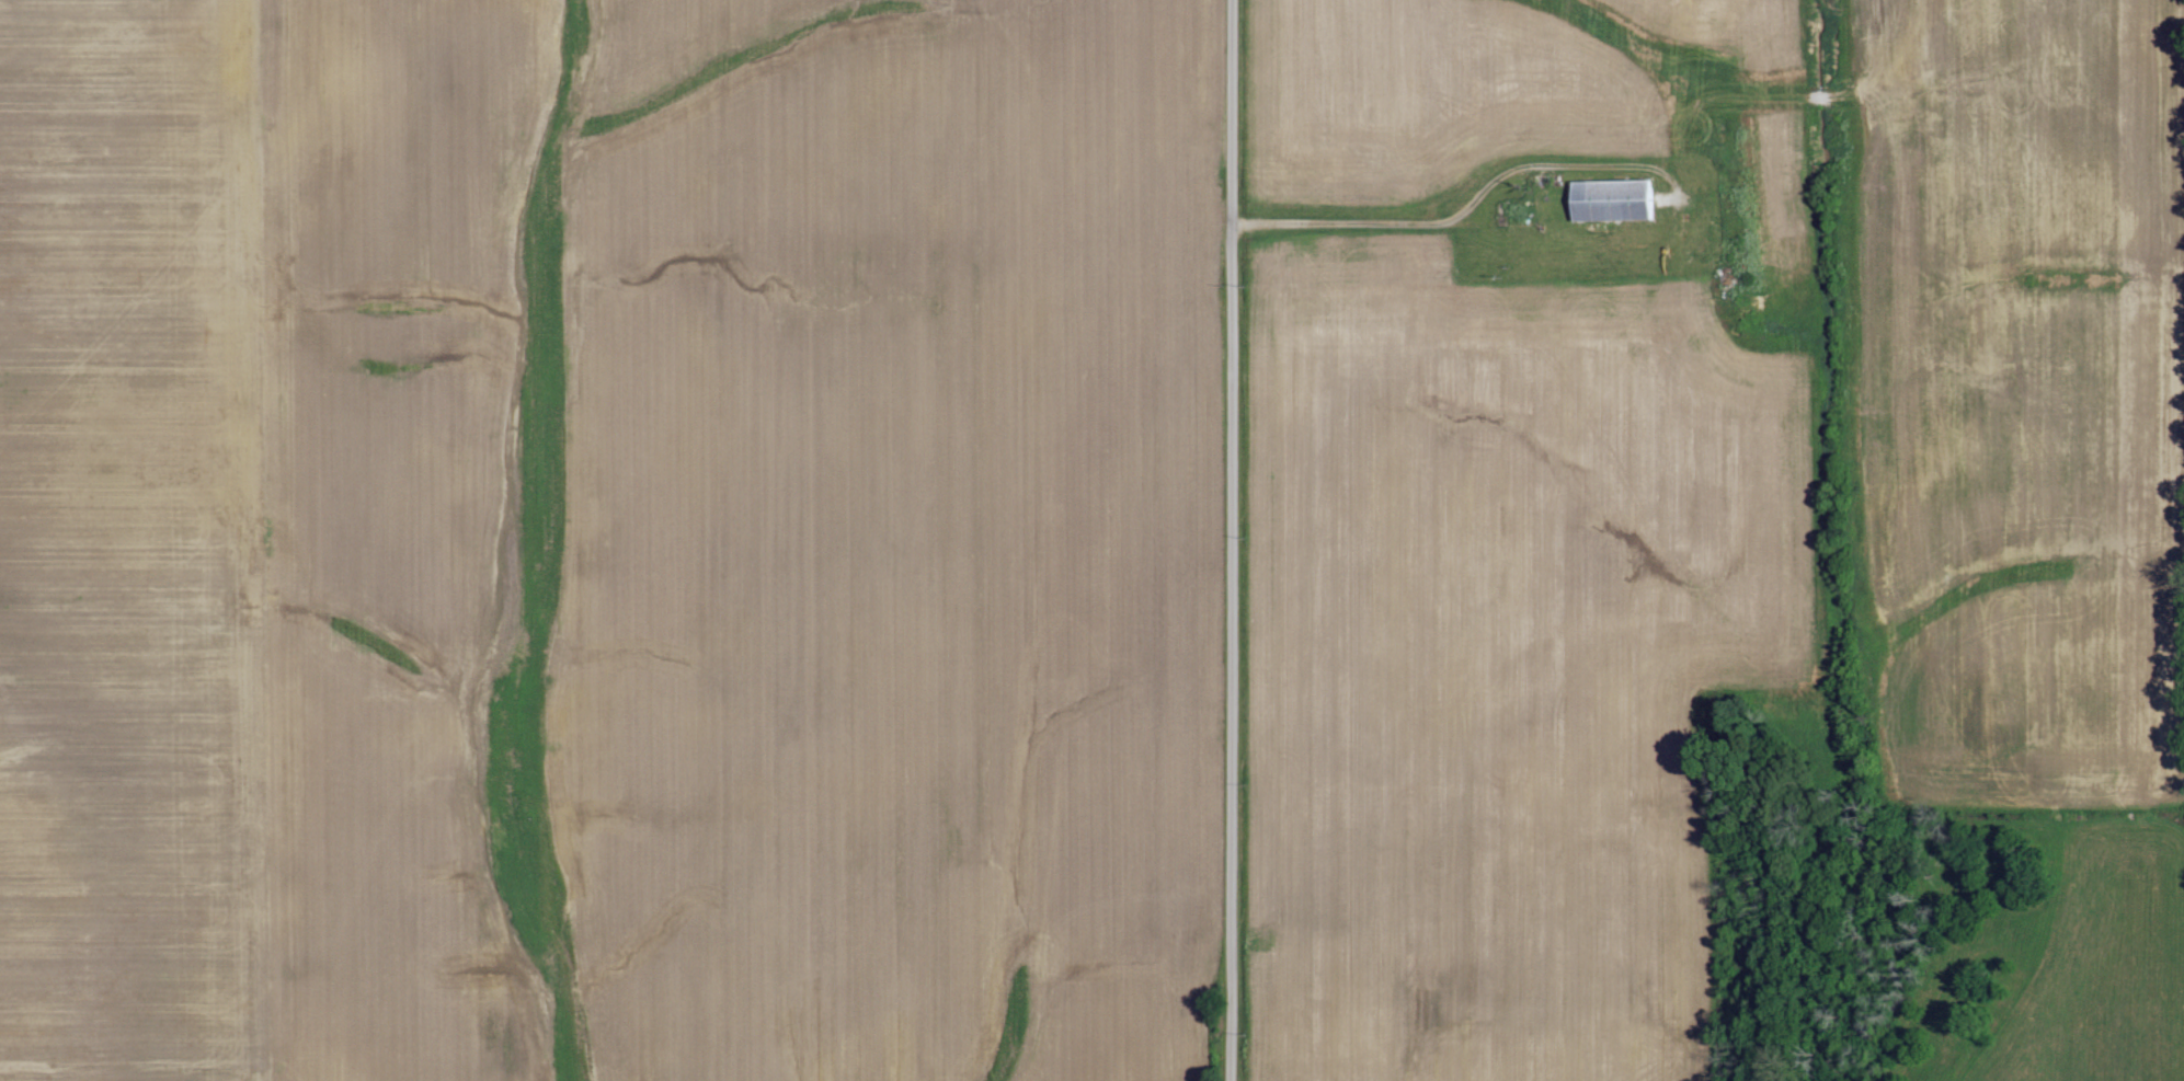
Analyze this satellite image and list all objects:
building: (1610, 202)
road: (1238, 540)

